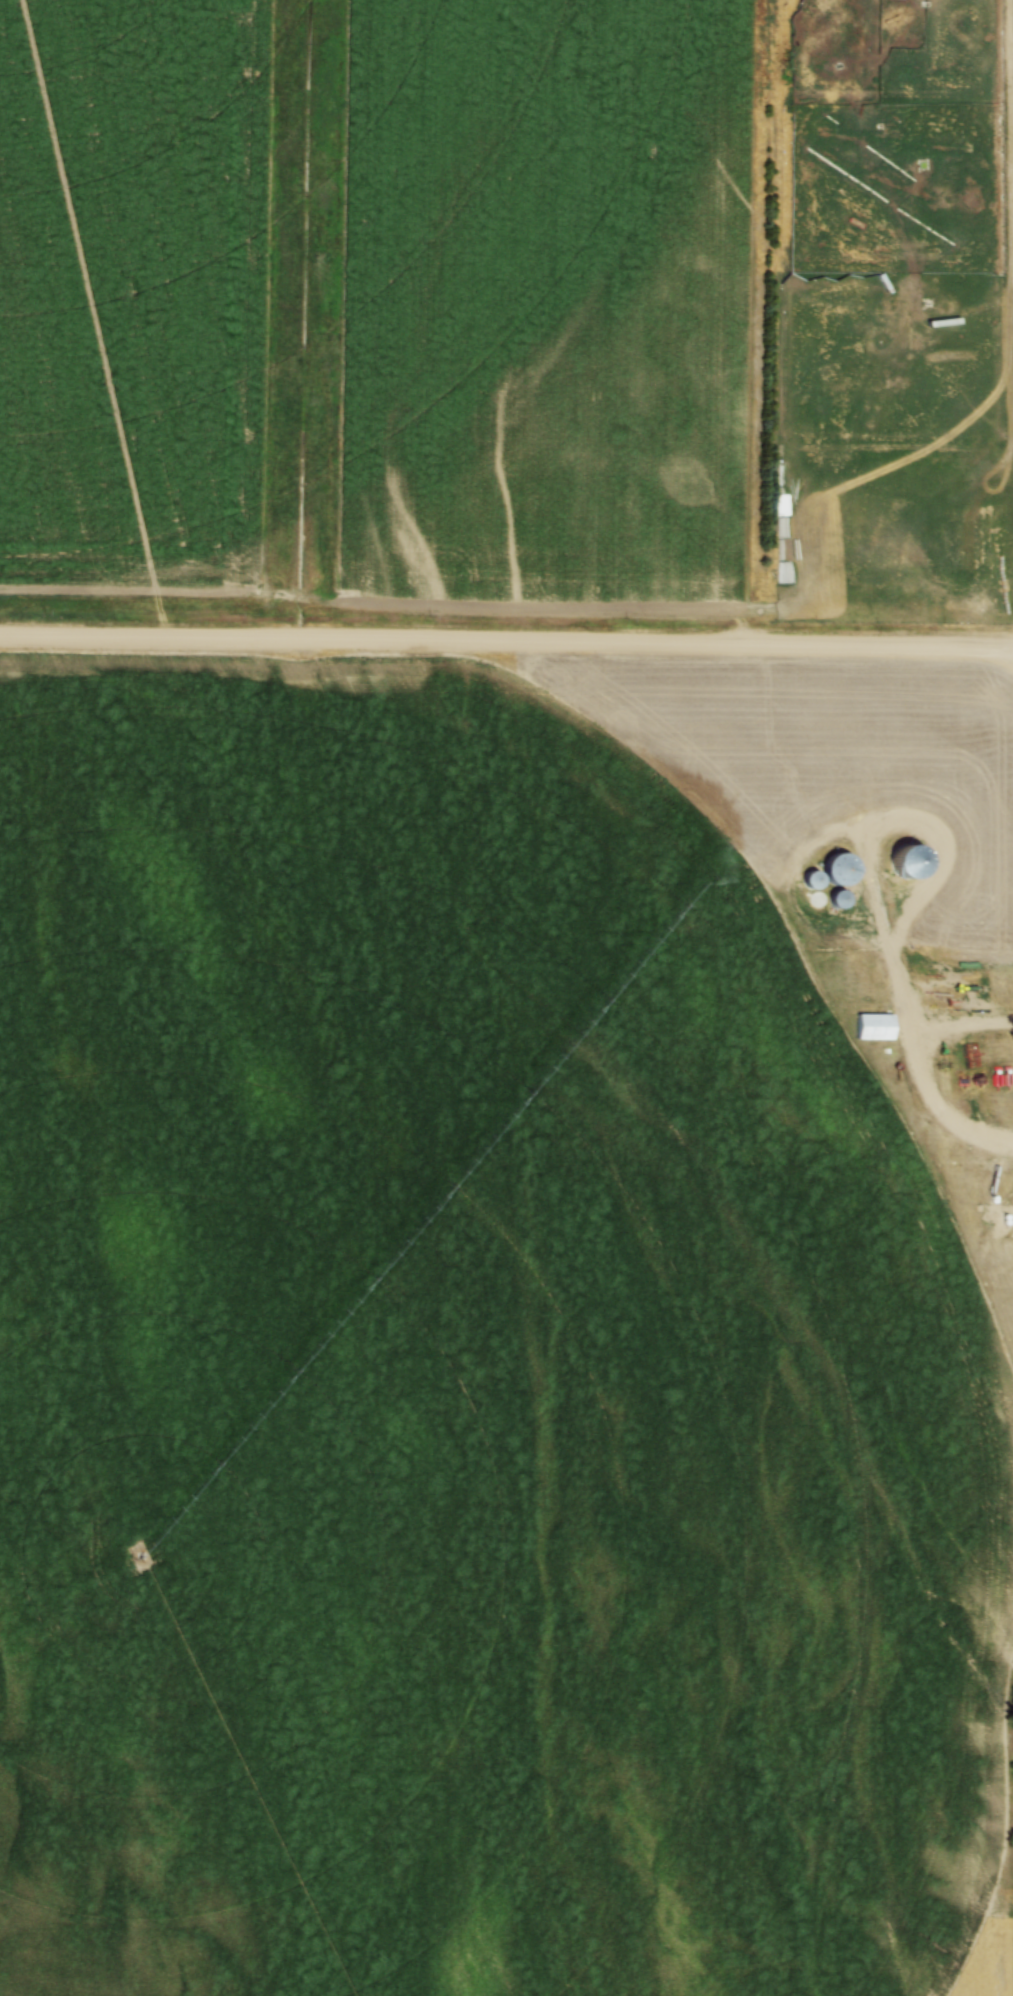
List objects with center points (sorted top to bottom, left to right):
crop: (134, 292)
crop: (542, 303)
road: (506, 645)
road: (807, 842)
building: (839, 868)
silo: (839, 868)
building: (812, 878)
silo: (812, 878)
building: (817, 898)
silo: (817, 898)
building: (841, 898)
silo: (841, 898)
building: (942, 969)
building: (874, 1026)
road: (922, 1069)
crop: (463, 1379)

